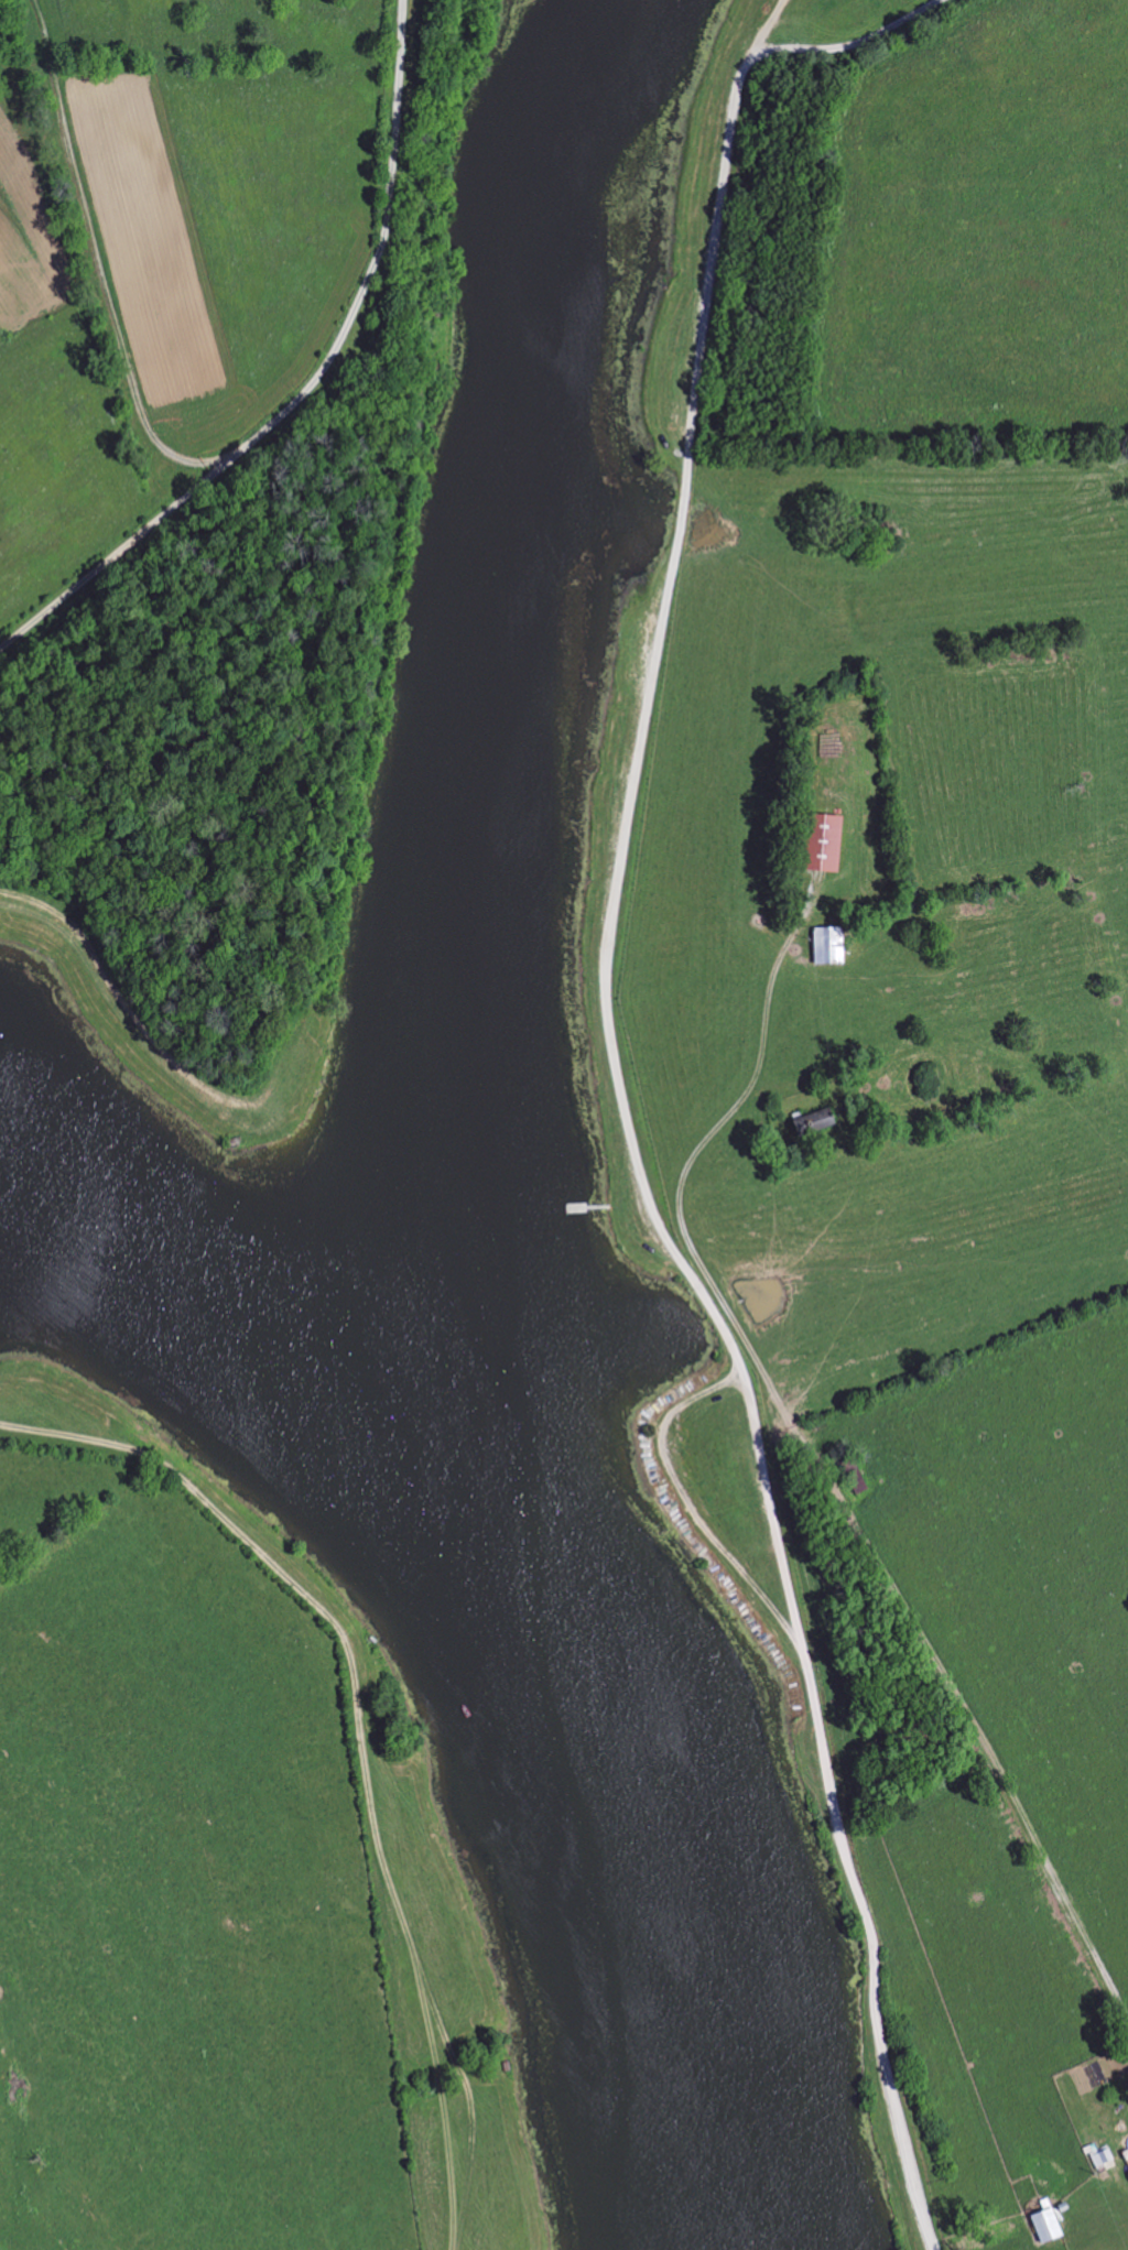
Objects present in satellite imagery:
building: (817, 843)
building: (824, 946)
building: (809, 1122)
road: (864, 1544)
road: (880, 2055)
building: (1102, 2159)
building: (1127, 2174)
building: (1043, 2226)

